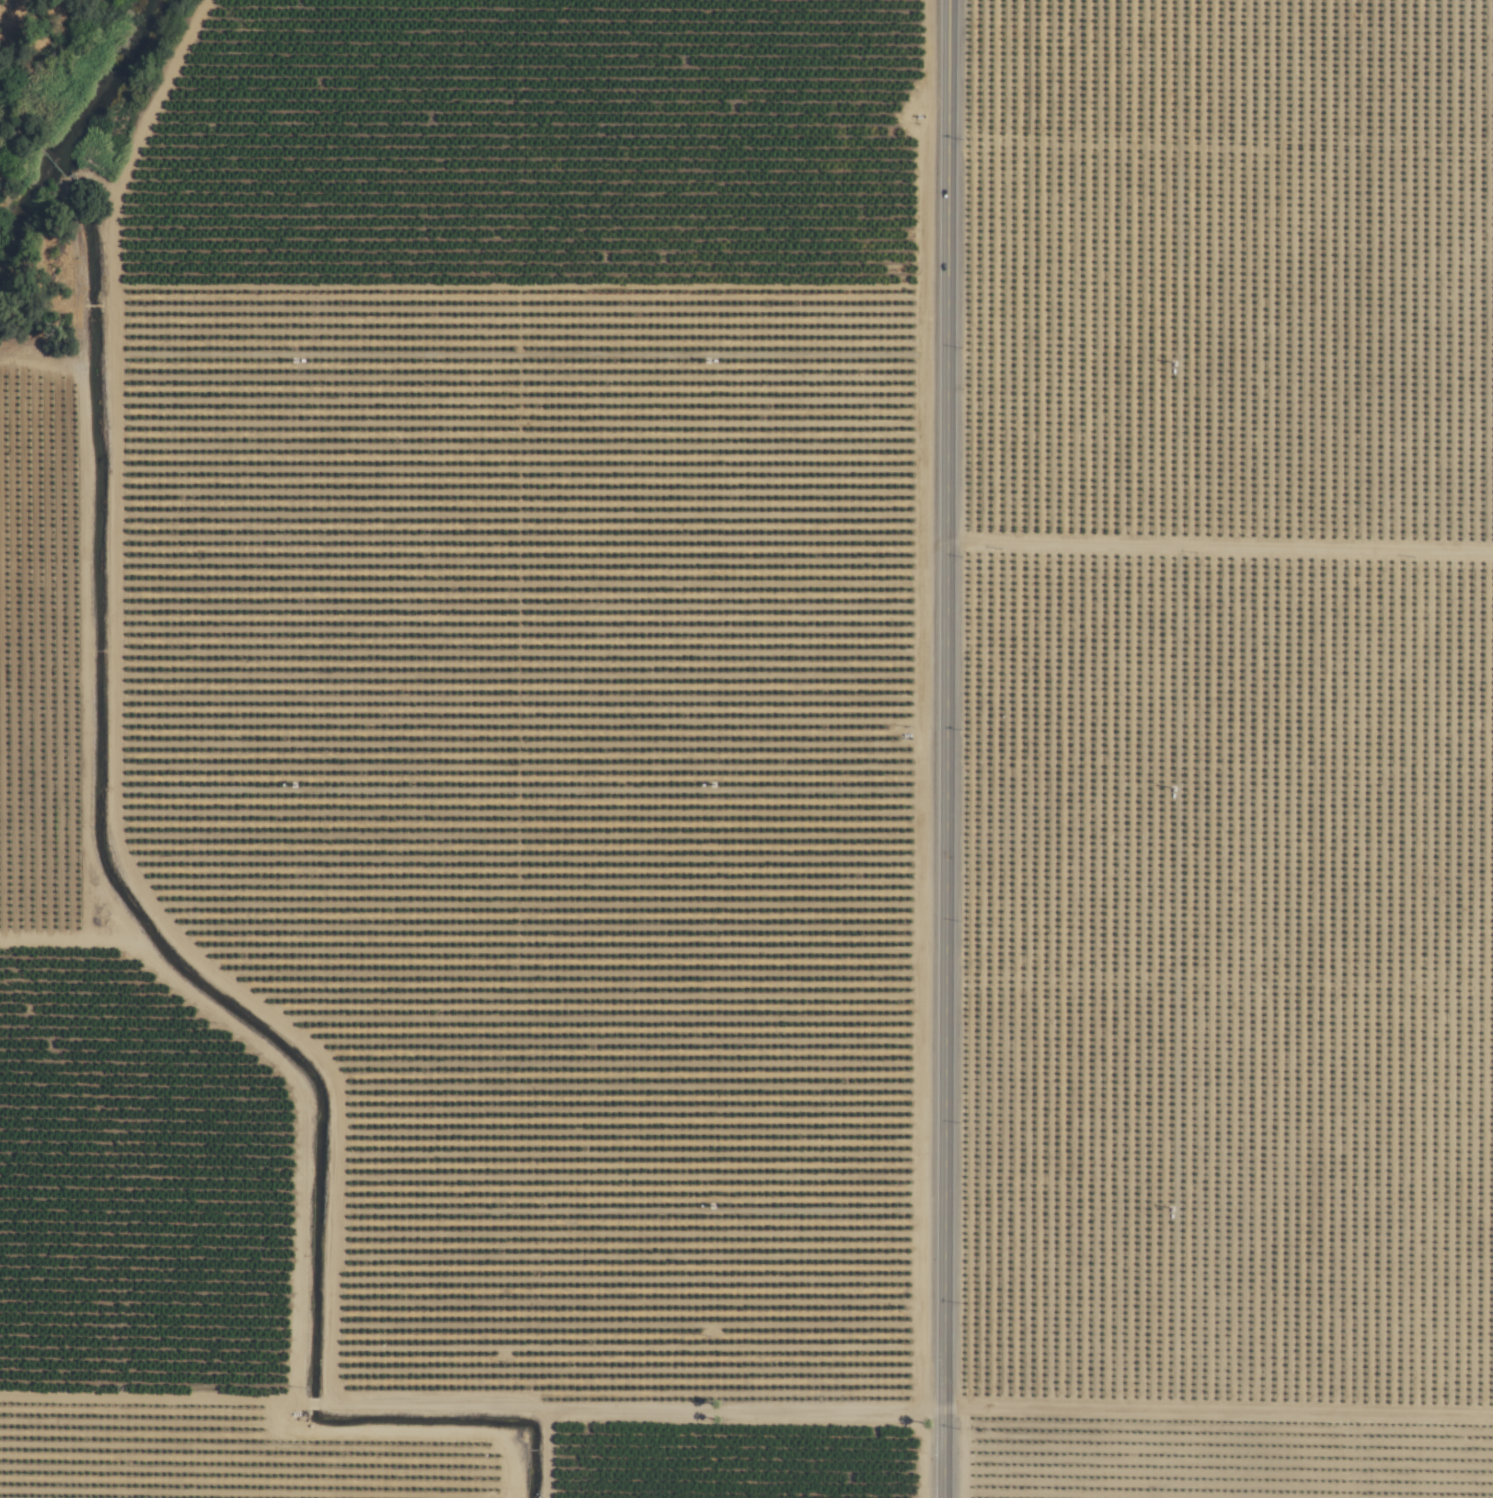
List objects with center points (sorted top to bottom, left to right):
road: (936, 748)
crop: (104, 1024)

